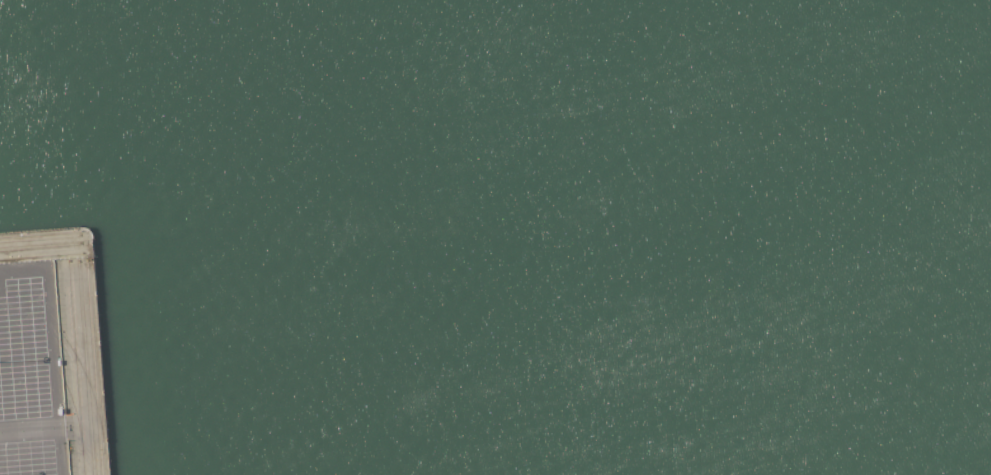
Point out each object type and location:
road: (46, 326)
railway: (91, 338)
railway: (78, 361)
railway: (83, 368)
road: (49, 430)

